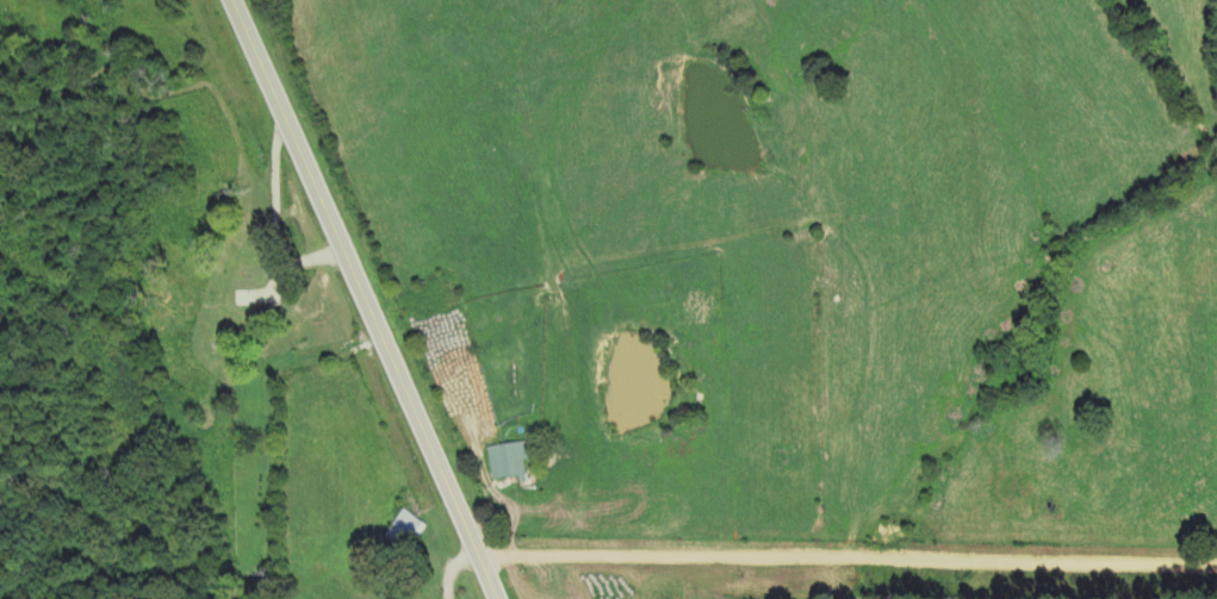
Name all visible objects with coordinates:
road: (366, 299)
building: (237, 311)
building: (671, 312)
building: (510, 460)
building: (404, 530)
road: (849, 560)

